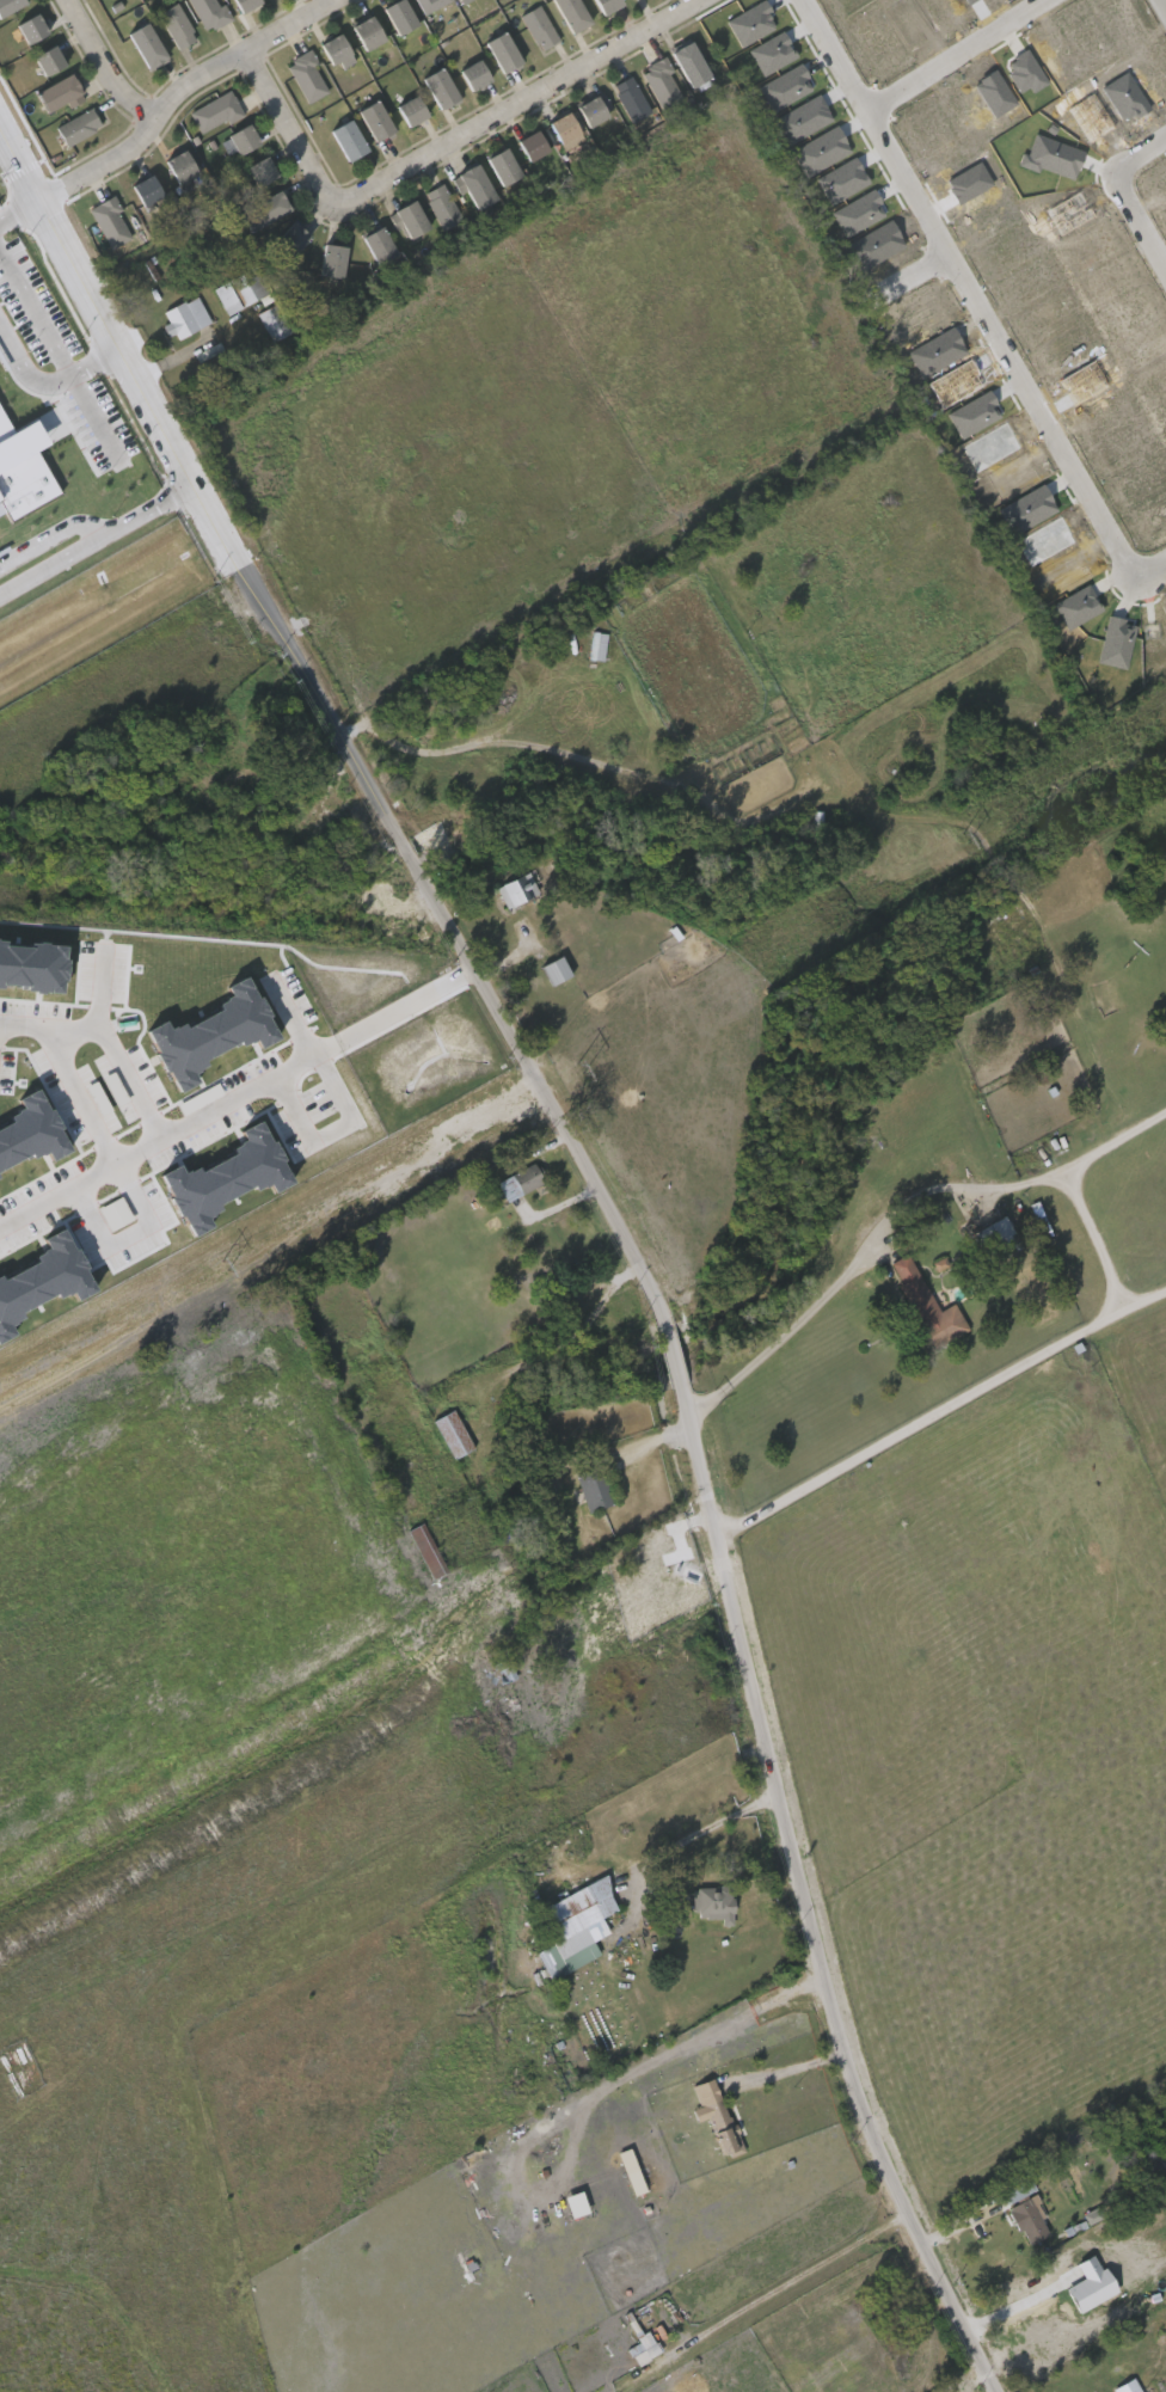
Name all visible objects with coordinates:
building: (465, 1)
building: (241, 4)
building: (8, 5)
building: (430, 5)
building: (603, 5)
road: (1161, 6)
building: (210, 13)
building: (570, 13)
building: (397, 14)
building: (177, 24)
building: (750, 24)
building: (540, 26)
building: (27, 27)
building: (364, 30)
building: (145, 43)
building: (331, 47)
building: (501, 50)
road: (953, 56)
building: (45, 59)
road: (102, 62)
building: (685, 62)
building: (472, 73)
building: (307, 78)
building: (661, 85)
building: (438, 86)
building: (785, 88)
building: (55, 92)
road: (170, 93)
building: (630, 97)
building: (591, 106)
building: (410, 109)
building: (216, 112)
building: (373, 119)
building: (803, 121)
building: (561, 125)
building: (76, 127)
building: (240, 137)
building: (346, 137)
building: (529, 145)
road: (435, 149)
building: (821, 152)
road: (1137, 152)
building: (1051, 158)
building: (501, 164)
building: (178, 166)
building: (258, 170)
building: (842, 182)
building: (473, 184)
building: (143, 189)
road: (13, 204)
building: (441, 204)
building: (264, 209)
building: (858, 214)
building: (407, 217)
road: (1137, 221)
building: (110, 223)
building: (284, 241)
building: (376, 244)
building: (331, 259)
road: (910, 274)
building: (250, 286)
road: (968, 289)
building: (225, 296)
building: (185, 315)
building: (272, 321)
road: (57, 358)
road: (44, 384)
building: (974, 416)
building: (23, 467)
road: (145, 505)
road: (49, 533)
road: (53, 560)
road: (1149, 568)
building: (1116, 644)
building: (597, 648)
road: (814, 798)
power tower: (964, 836)
building: (513, 888)
building: (31, 968)
building: (553, 969)
road: (99, 993)
road: (406, 1005)
building: (210, 1035)
road: (68, 1065)
power tower: (581, 1066)
road: (125, 1078)
road: (335, 1130)
building: (30, 1133)
road: (170, 1134)
road: (1115, 1141)
building: (226, 1179)
building: (521, 1180)
building: (115, 1214)
road: (615, 1218)
road: (130, 1238)
building: (996, 1238)
road: (1098, 1239)
road: (860, 1255)
power tower: (227, 1262)
building: (428, 1268)
building: (42, 1281)
building: (925, 1305)
road: (940, 1412)
building: (450, 1433)
building: (593, 1486)
building: (424, 1548)
building: (496, 1609)
building: (503, 1669)
road: (705, 1830)
building: (711, 1901)
building: (571, 1925)
road: (593, 2102)
building: (722, 2126)
building: (576, 2206)
building: (1023, 2210)
building: (1092, 2216)
building: (1090, 2286)
road: (990, 2324)
building: (1045, 2329)
building: (1127, 2386)

